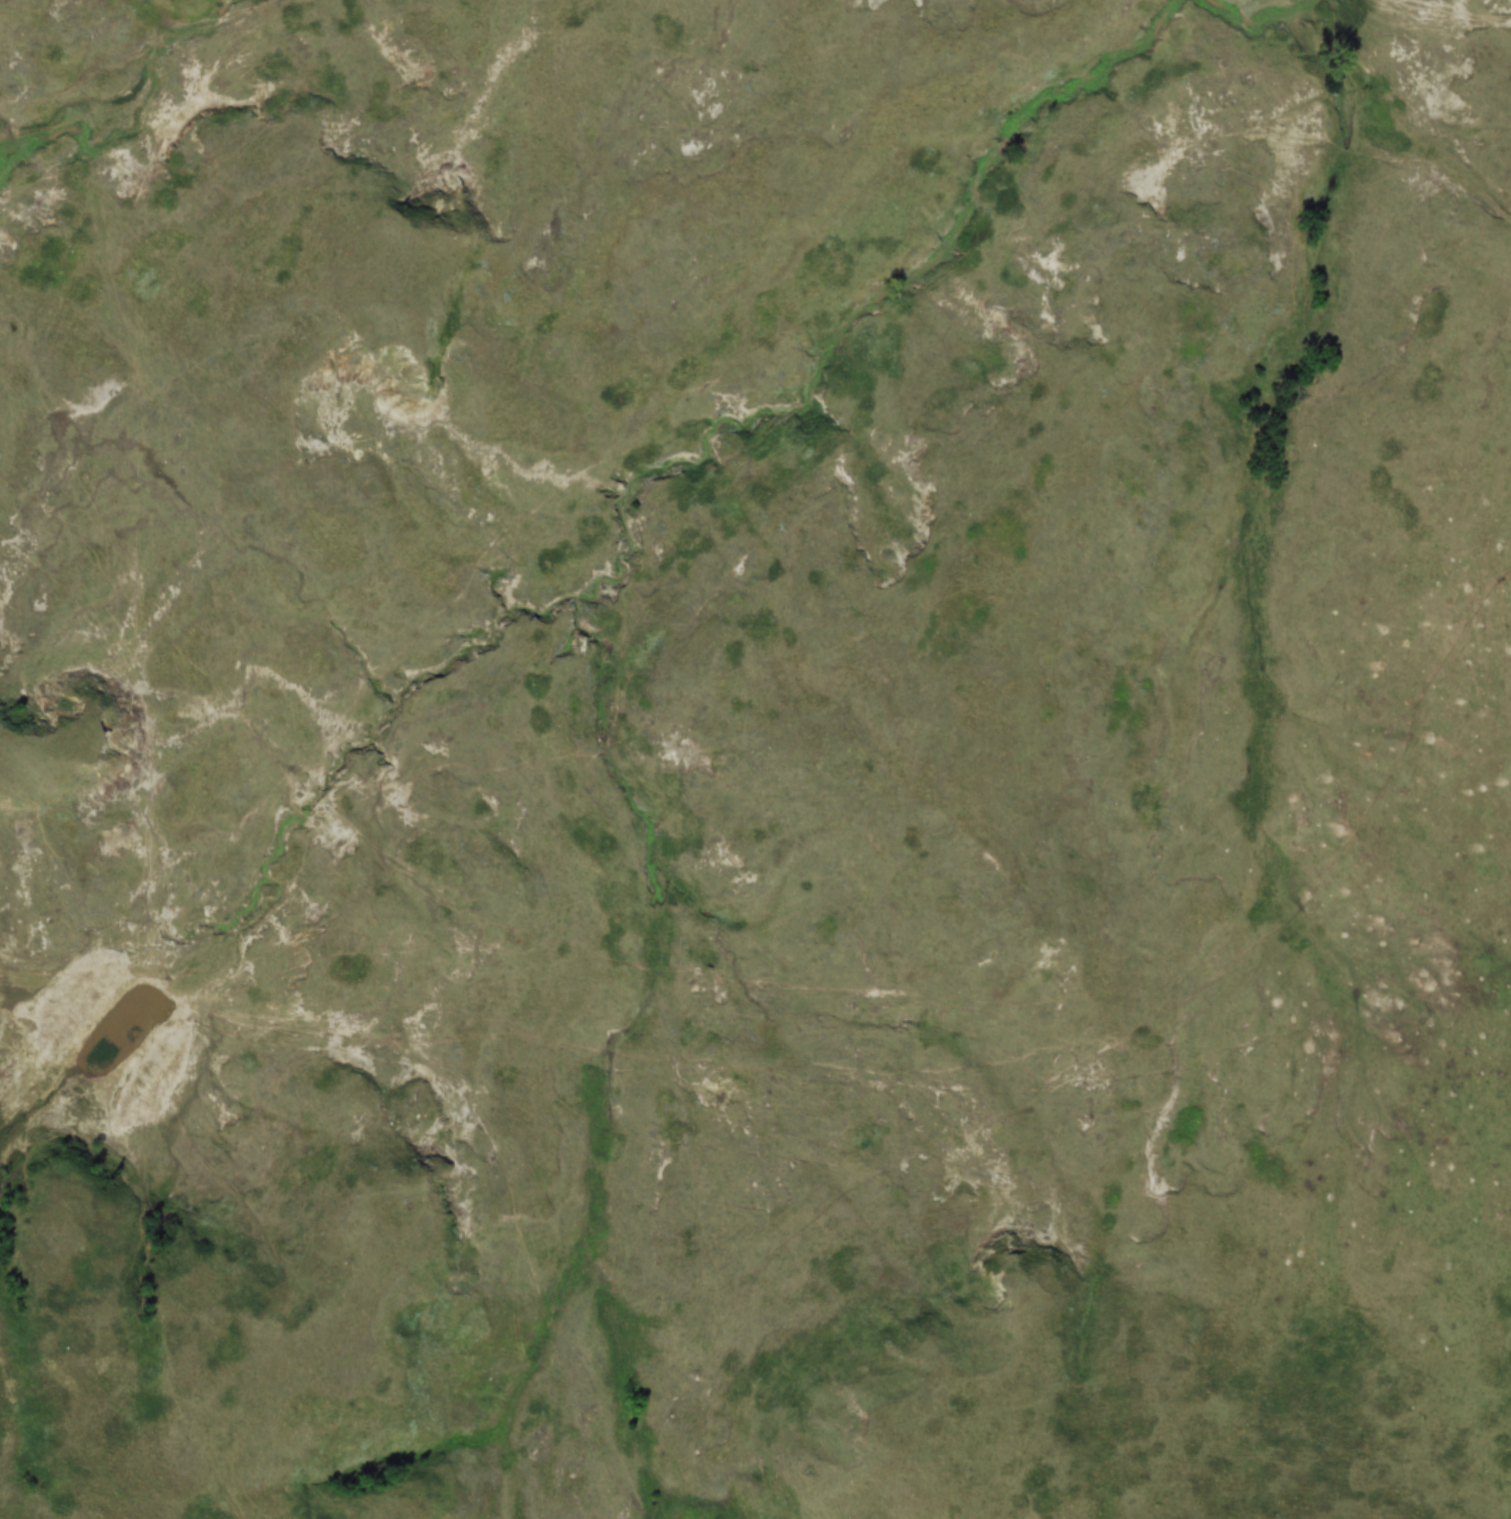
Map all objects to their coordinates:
road: (1445, 21)

